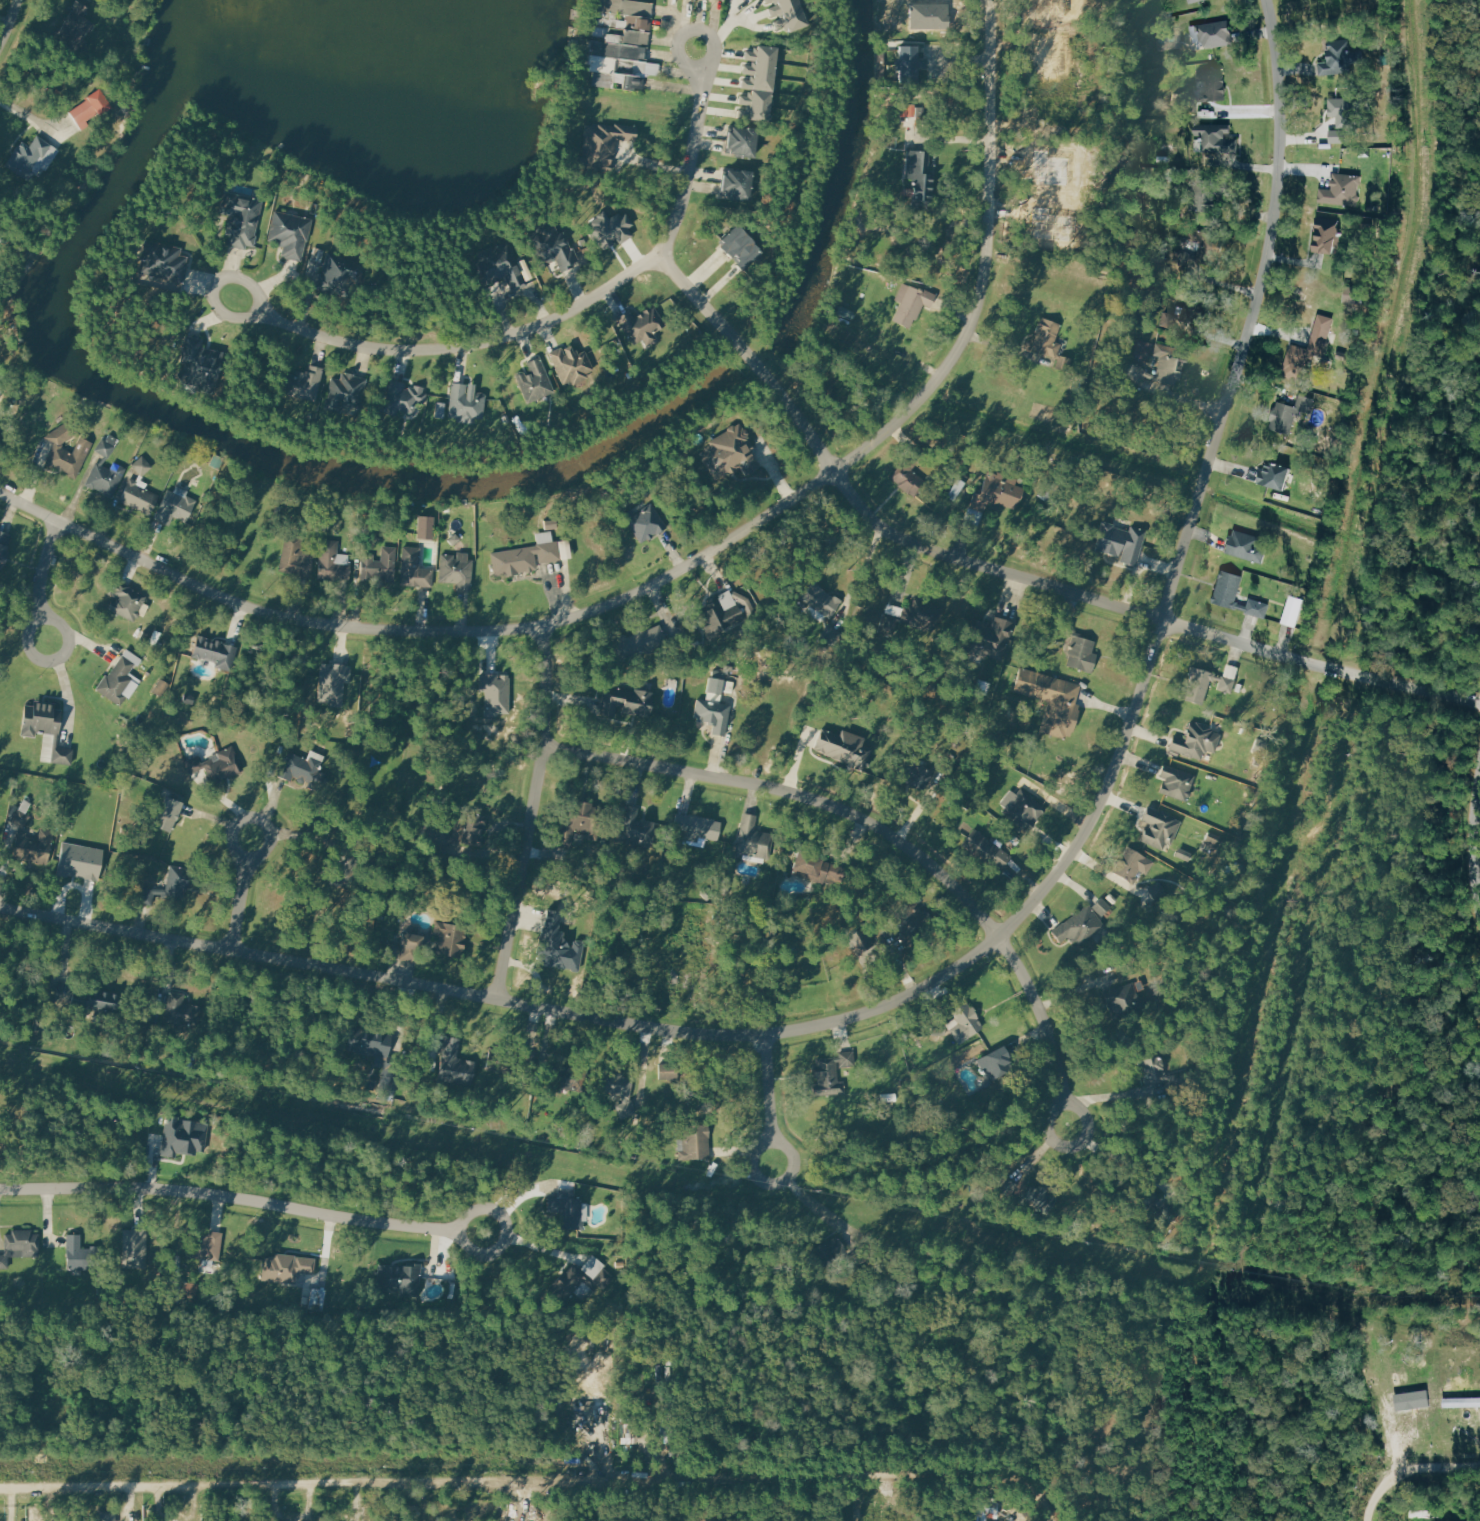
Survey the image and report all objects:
building: (725, 0)
building: (1192, 1)
building: (624, 7)
building: (1051, 9)
building: (787, 15)
building: (928, 17)
building: (621, 21)
road: (679, 21)
road: (9, 24)
building: (75, 26)
building: (1214, 31)
road: (724, 33)
building: (628, 37)
road: (713, 37)
building: (617, 50)
building: (1335, 58)
building: (909, 63)
building: (622, 65)
building: (759, 69)
building: (1213, 80)
building: (619, 81)
building: (92, 107)
building: (755, 107)
building: (1345, 112)
road: (28, 114)
building: (1215, 135)
building: (1339, 136)
building: (740, 140)
building: (603, 145)
building: (28, 156)
building: (1051, 168)
building: (920, 176)
building: (737, 184)
building: (1342, 188)
building: (1207, 192)
building: (241, 217)
building: (1052, 225)
building: (610, 229)
building: (291, 234)
building: (1324, 235)
building: (1207, 244)
building: (739, 245)
building: (552, 247)
building: (163, 261)
building: (499, 265)
building: (339, 272)
building: (911, 303)
building: (1190, 305)
road: (550, 320)
building: (643, 324)
building: (1322, 333)
building: (1046, 338)
building: (1170, 362)
building: (199, 363)
building: (1296, 363)
building: (570, 364)
building: (1135, 373)
building: (535, 381)
building: (303, 383)
building: (0, 392)
building: (347, 392)
building: (404, 397)
building: (466, 404)
building: (1282, 416)
building: (62, 432)
building: (106, 444)
building: (727, 452)
building: (68, 458)
building: (216, 460)
building: (143, 465)
building: (1274, 473)
building: (906, 477)
building: (107, 478)
building: (992, 496)
building: (138, 497)
building: (174, 507)
building: (645, 522)
building: (424, 528)
building: (1118, 542)
building: (1246, 545)
building: (4, 547)
building: (548, 551)
building: (296, 555)
building: (514, 560)
building: (333, 562)
building: (378, 566)
road: (44, 568)
building: (455, 570)
building: (413, 571)
road: (679, 574)
road: (1009, 574)
building: (1226, 587)
building: (821, 598)
building: (126, 601)
building: (1294, 611)
building: (925, 612)
building: (725, 613)
building: (904, 616)
road: (69, 630)
building: (991, 637)
building: (638, 643)
building: (216, 652)
building: (1081, 654)
building: (116, 679)
building: (331, 682)
building: (1196, 685)
building: (717, 687)
building: (494, 694)
building: (1051, 699)
building: (624, 702)
building: (713, 714)
building: (41, 718)
building: (1195, 741)
building: (842, 748)
building: (63, 757)
building: (194, 764)
building: (223, 764)
building: (305, 771)
building: (917, 774)
building: (1176, 782)
building: (1023, 810)
road: (534, 811)
building: (169, 814)
building: (23, 815)
building: (577, 823)
building: (636, 825)
building: (696, 827)
building: (474, 828)
building: (1160, 830)
road: (888, 832)
building: (439, 837)
building: (753, 839)
road: (1468, 844)
building: (32, 847)
building: (988, 848)
building: (79, 861)
building: (347, 864)
building: (1132, 864)
building: (812, 869)
building: (177, 881)
road: (76, 886)
road: (242, 892)
building: (1156, 892)
building: (146, 894)
building: (909, 915)
building: (1078, 926)
building: (451, 939)
building: (863, 943)
building: (412, 947)
building: (557, 947)
road: (986, 947)
road: (534, 973)
building: (98, 999)
building: (1121, 999)
building: (181, 1007)
building: (964, 1021)
building: (938, 1023)
building: (376, 1050)
building: (846, 1057)
building: (508, 1062)
building: (455, 1064)
building: (995, 1064)
building: (1152, 1066)
building: (669, 1069)
building: (828, 1076)
building: (618, 1083)
road: (769, 1097)
building: (181, 1137)
building: (696, 1141)
road: (746, 1151)
road: (245, 1197)
building: (1042, 1199)
building: (1142, 1199)
road: (813, 1202)
building: (566, 1211)
building: (23, 1243)
building: (204, 1244)
building: (136, 1246)
building: (834, 1249)
building: (78, 1253)
building: (288, 1265)
building: (400, 1277)
building: (572, 1279)
road: (1409, 1471)
road: (521, 1477)
road: (1049, 1503)
building: (106, 1516)

